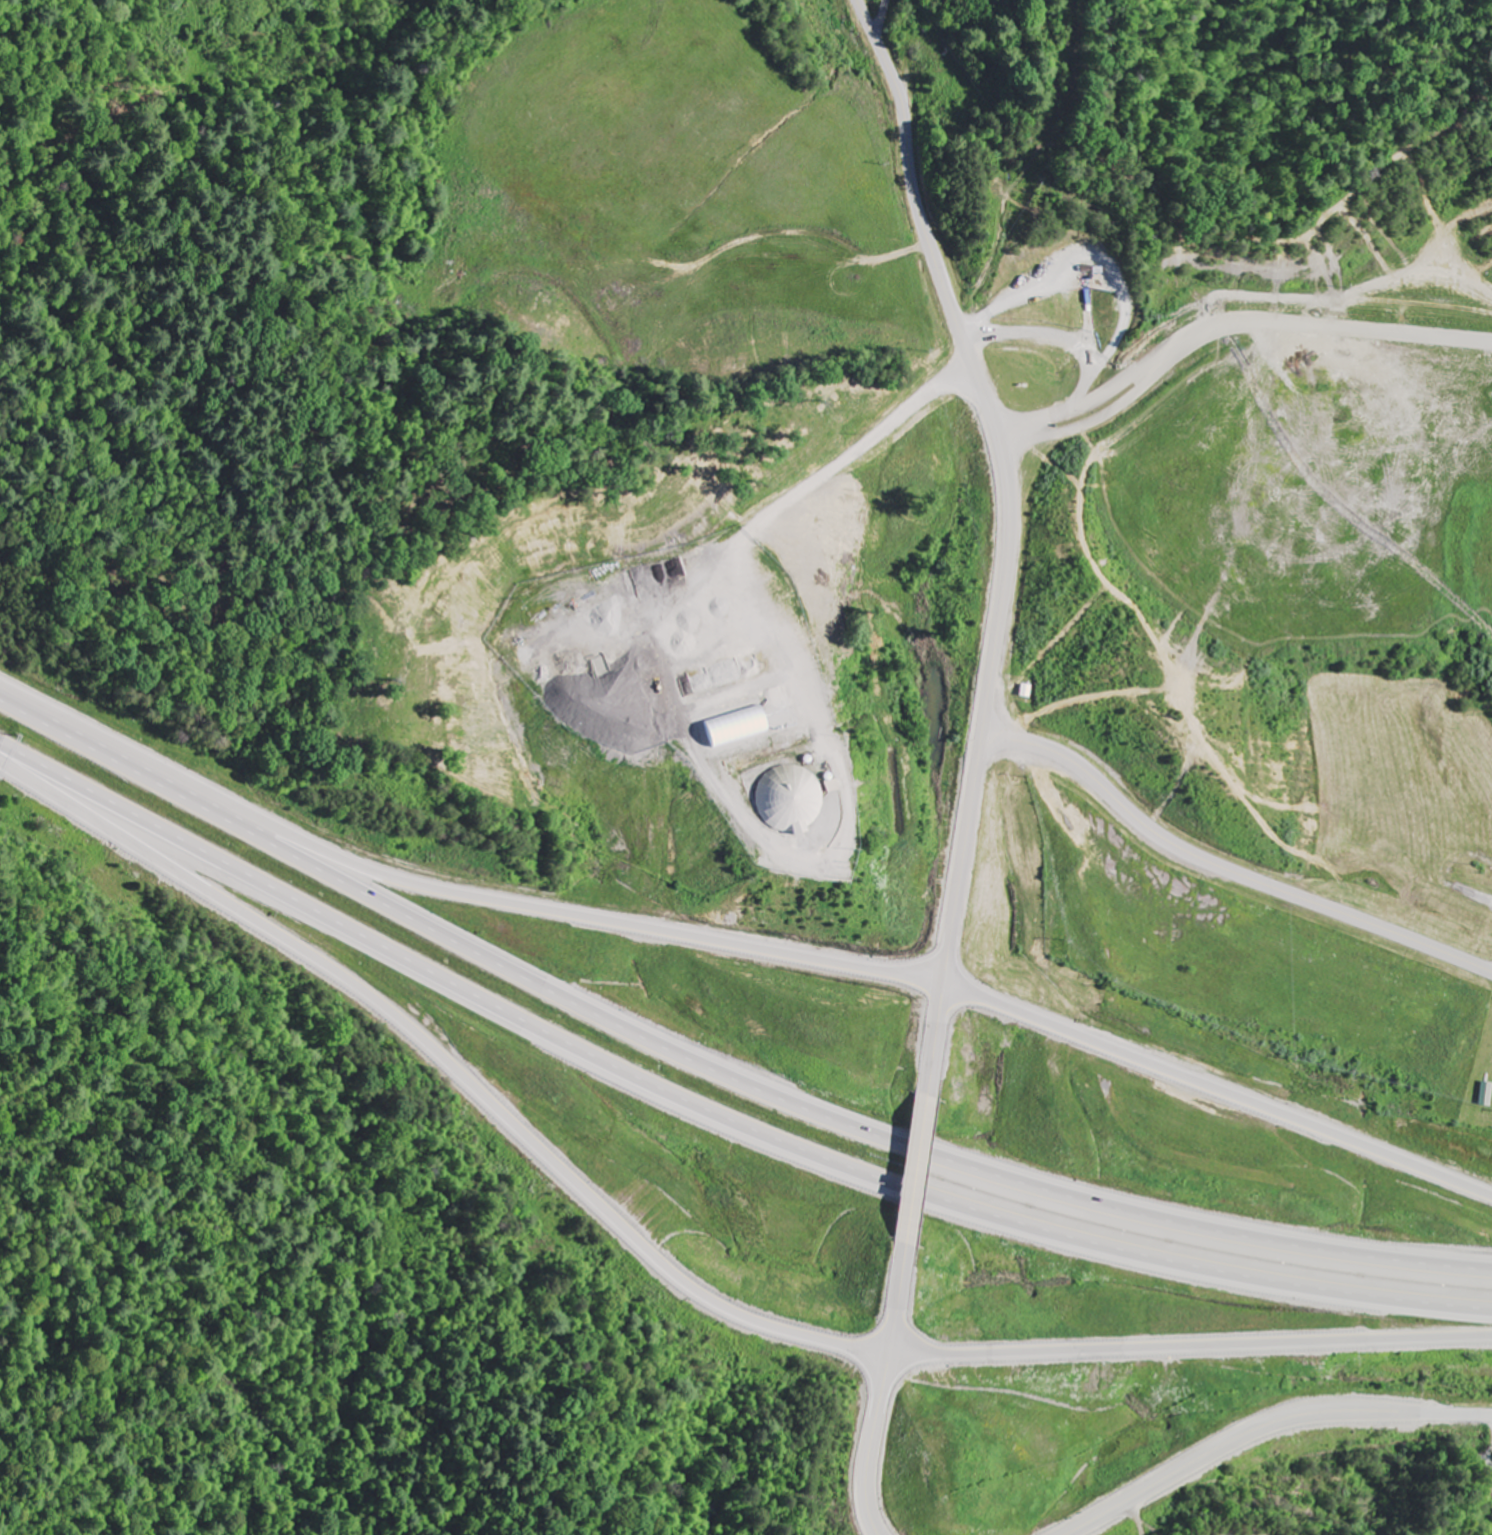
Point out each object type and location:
road: (878, 17)
road: (1229, 331)
road: (1007, 535)
road: (1227, 865)
road: (452, 890)
road: (442, 1057)
road: (714, 1066)
road: (1217, 1087)
building: (1487, 1095)
road: (715, 1115)
road: (914, 1167)
road: (1181, 1346)
road: (880, 1390)
road: (1264, 1426)

